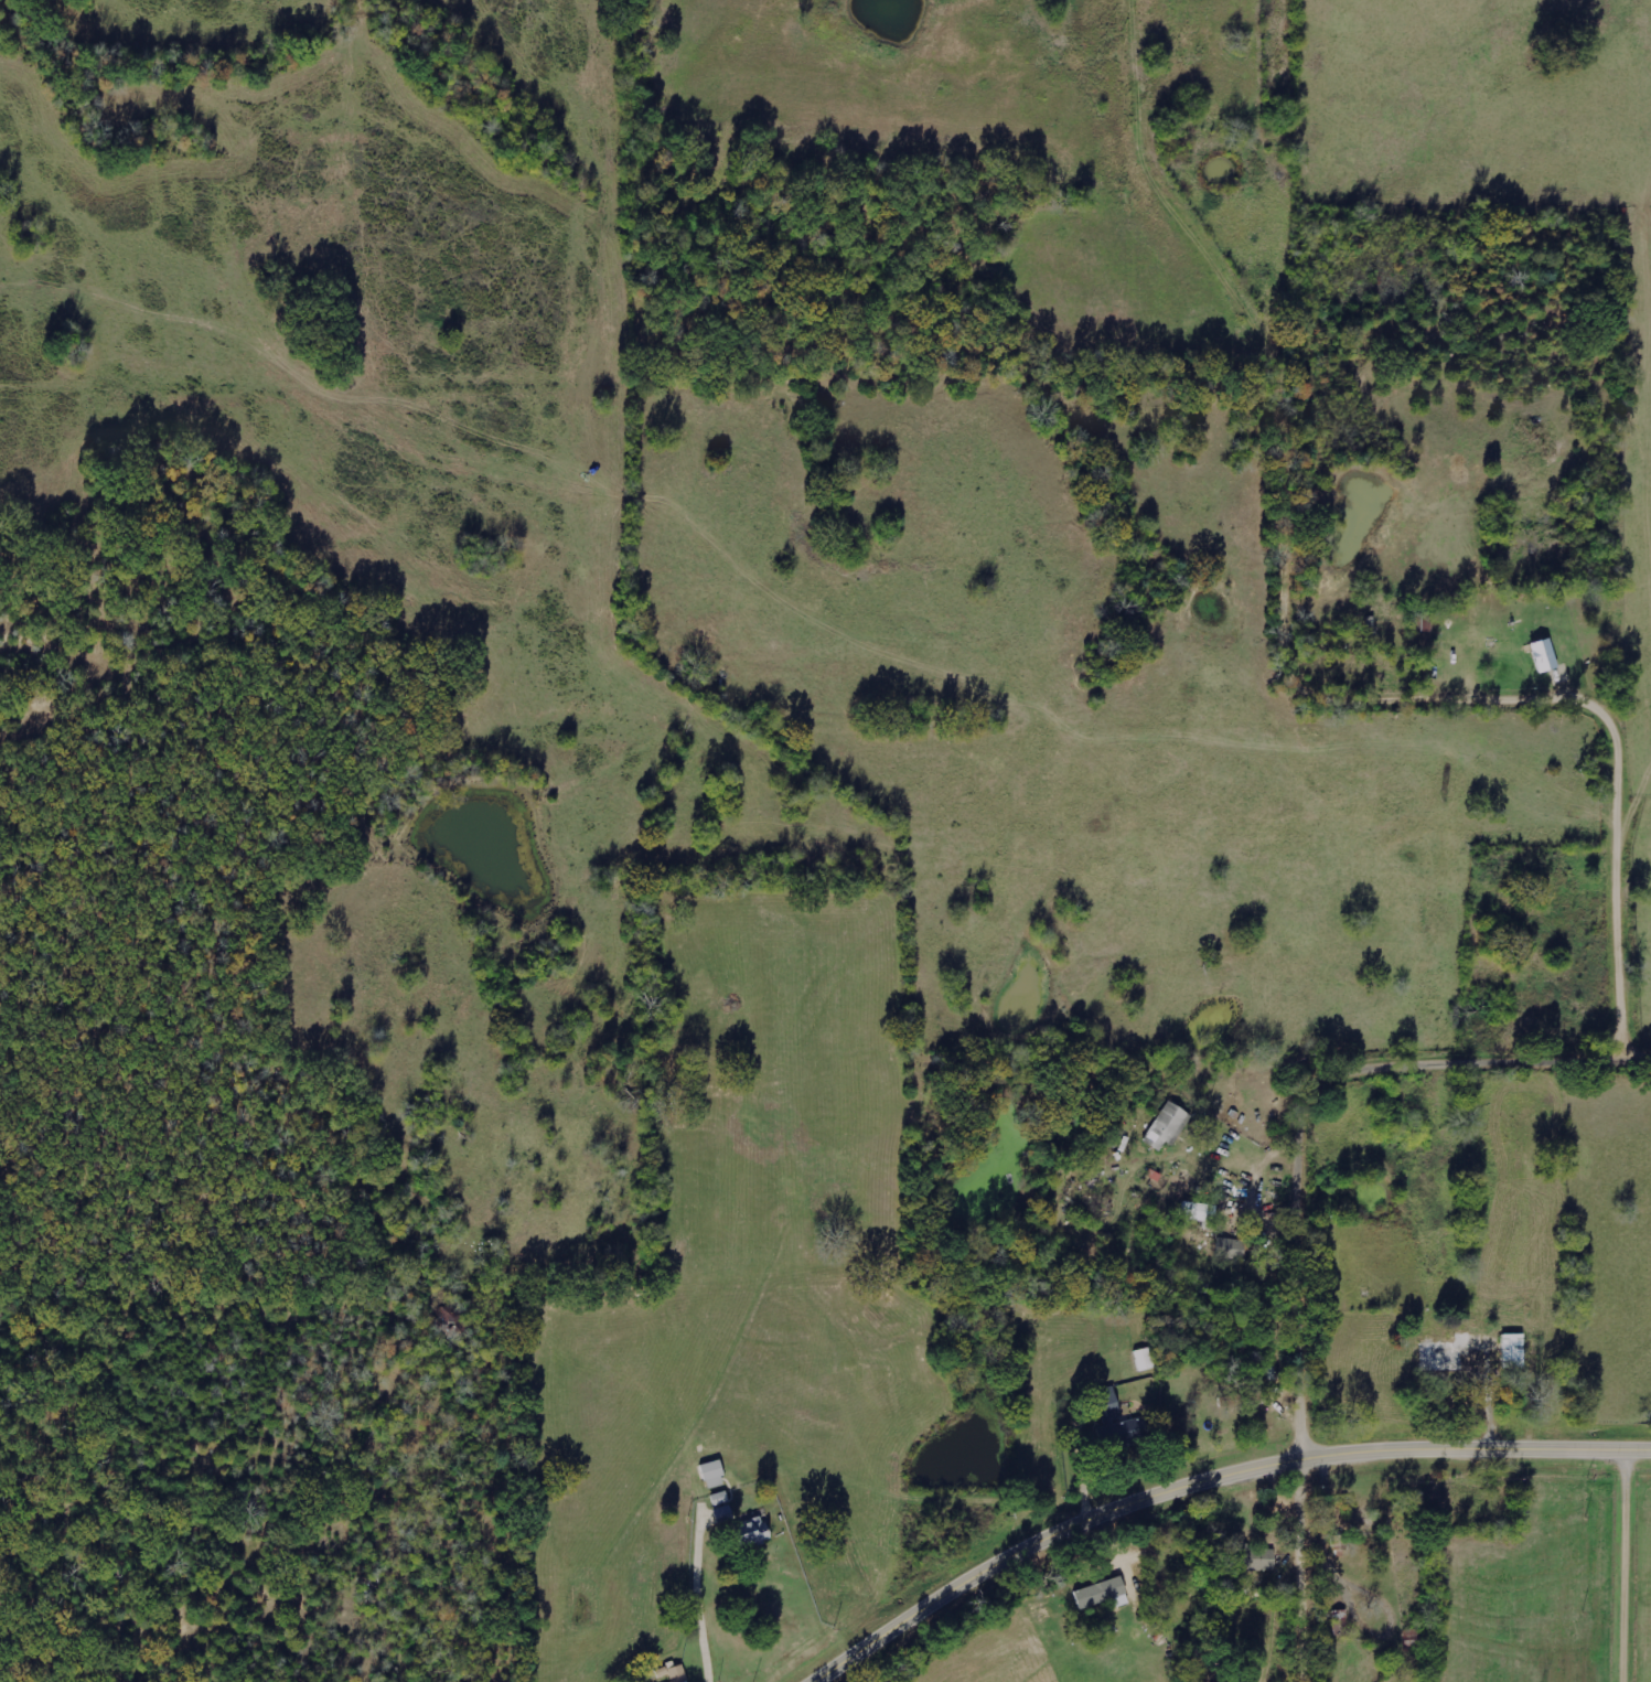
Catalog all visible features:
building: (1540, 655)
road: (1326, 1111)
building: (1165, 1127)
building: (1197, 1212)
building: (1229, 1250)
building: (1444, 1352)
building: (1511, 1352)
building: (1143, 1360)
building: (1240, 1399)
building: (1106, 1404)
building: (715, 1475)
road: (1207, 1476)
road: (504, 1507)
building: (755, 1531)
road: (1618, 1544)
building: (1250, 1558)
road: (1311, 1564)
building: (1097, 1593)

